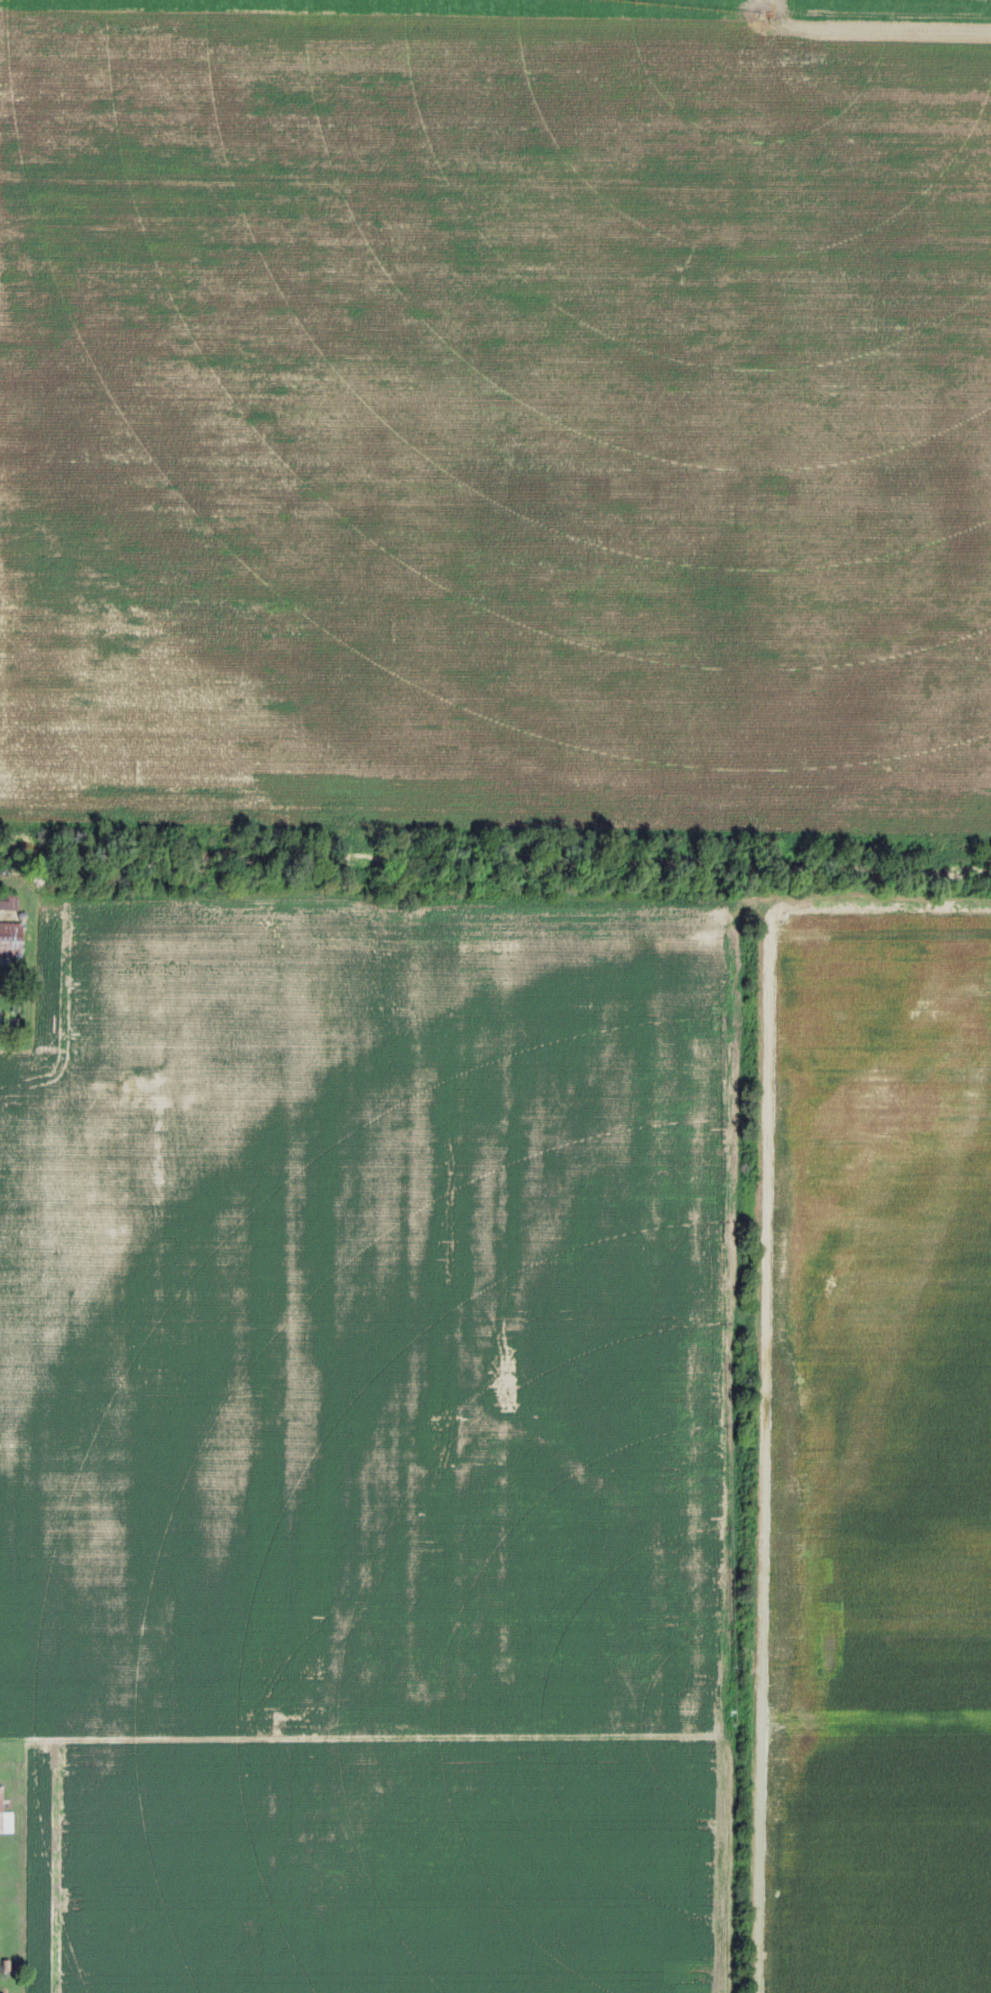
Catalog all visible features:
road: (760, 1866)

